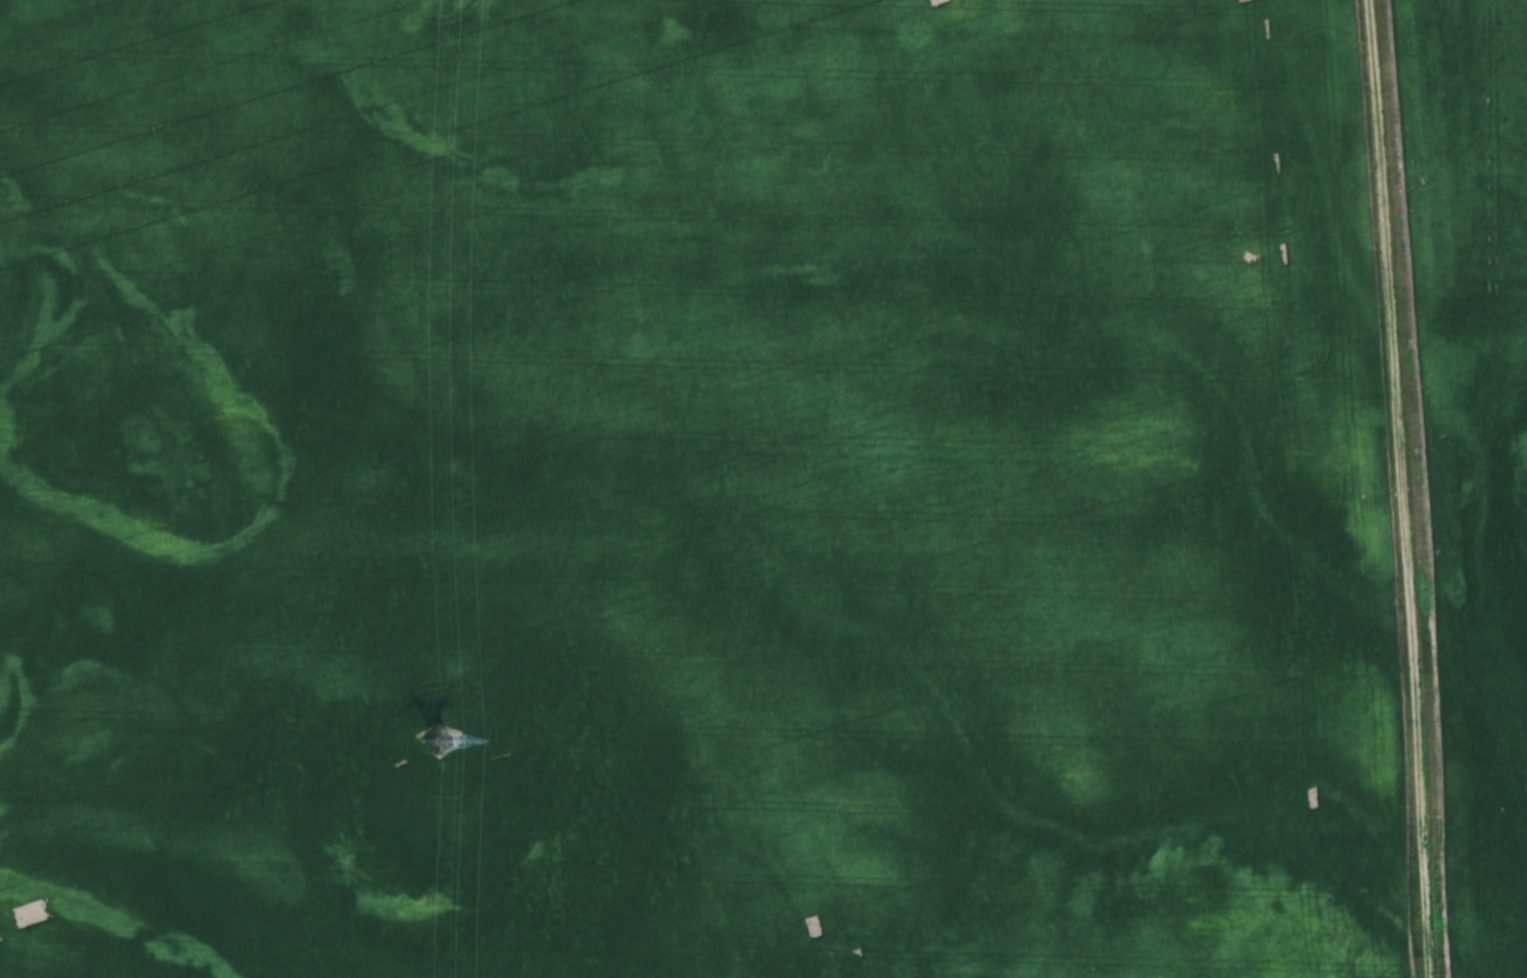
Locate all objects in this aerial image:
road: (1390, 489)
power tower: (439, 738)

